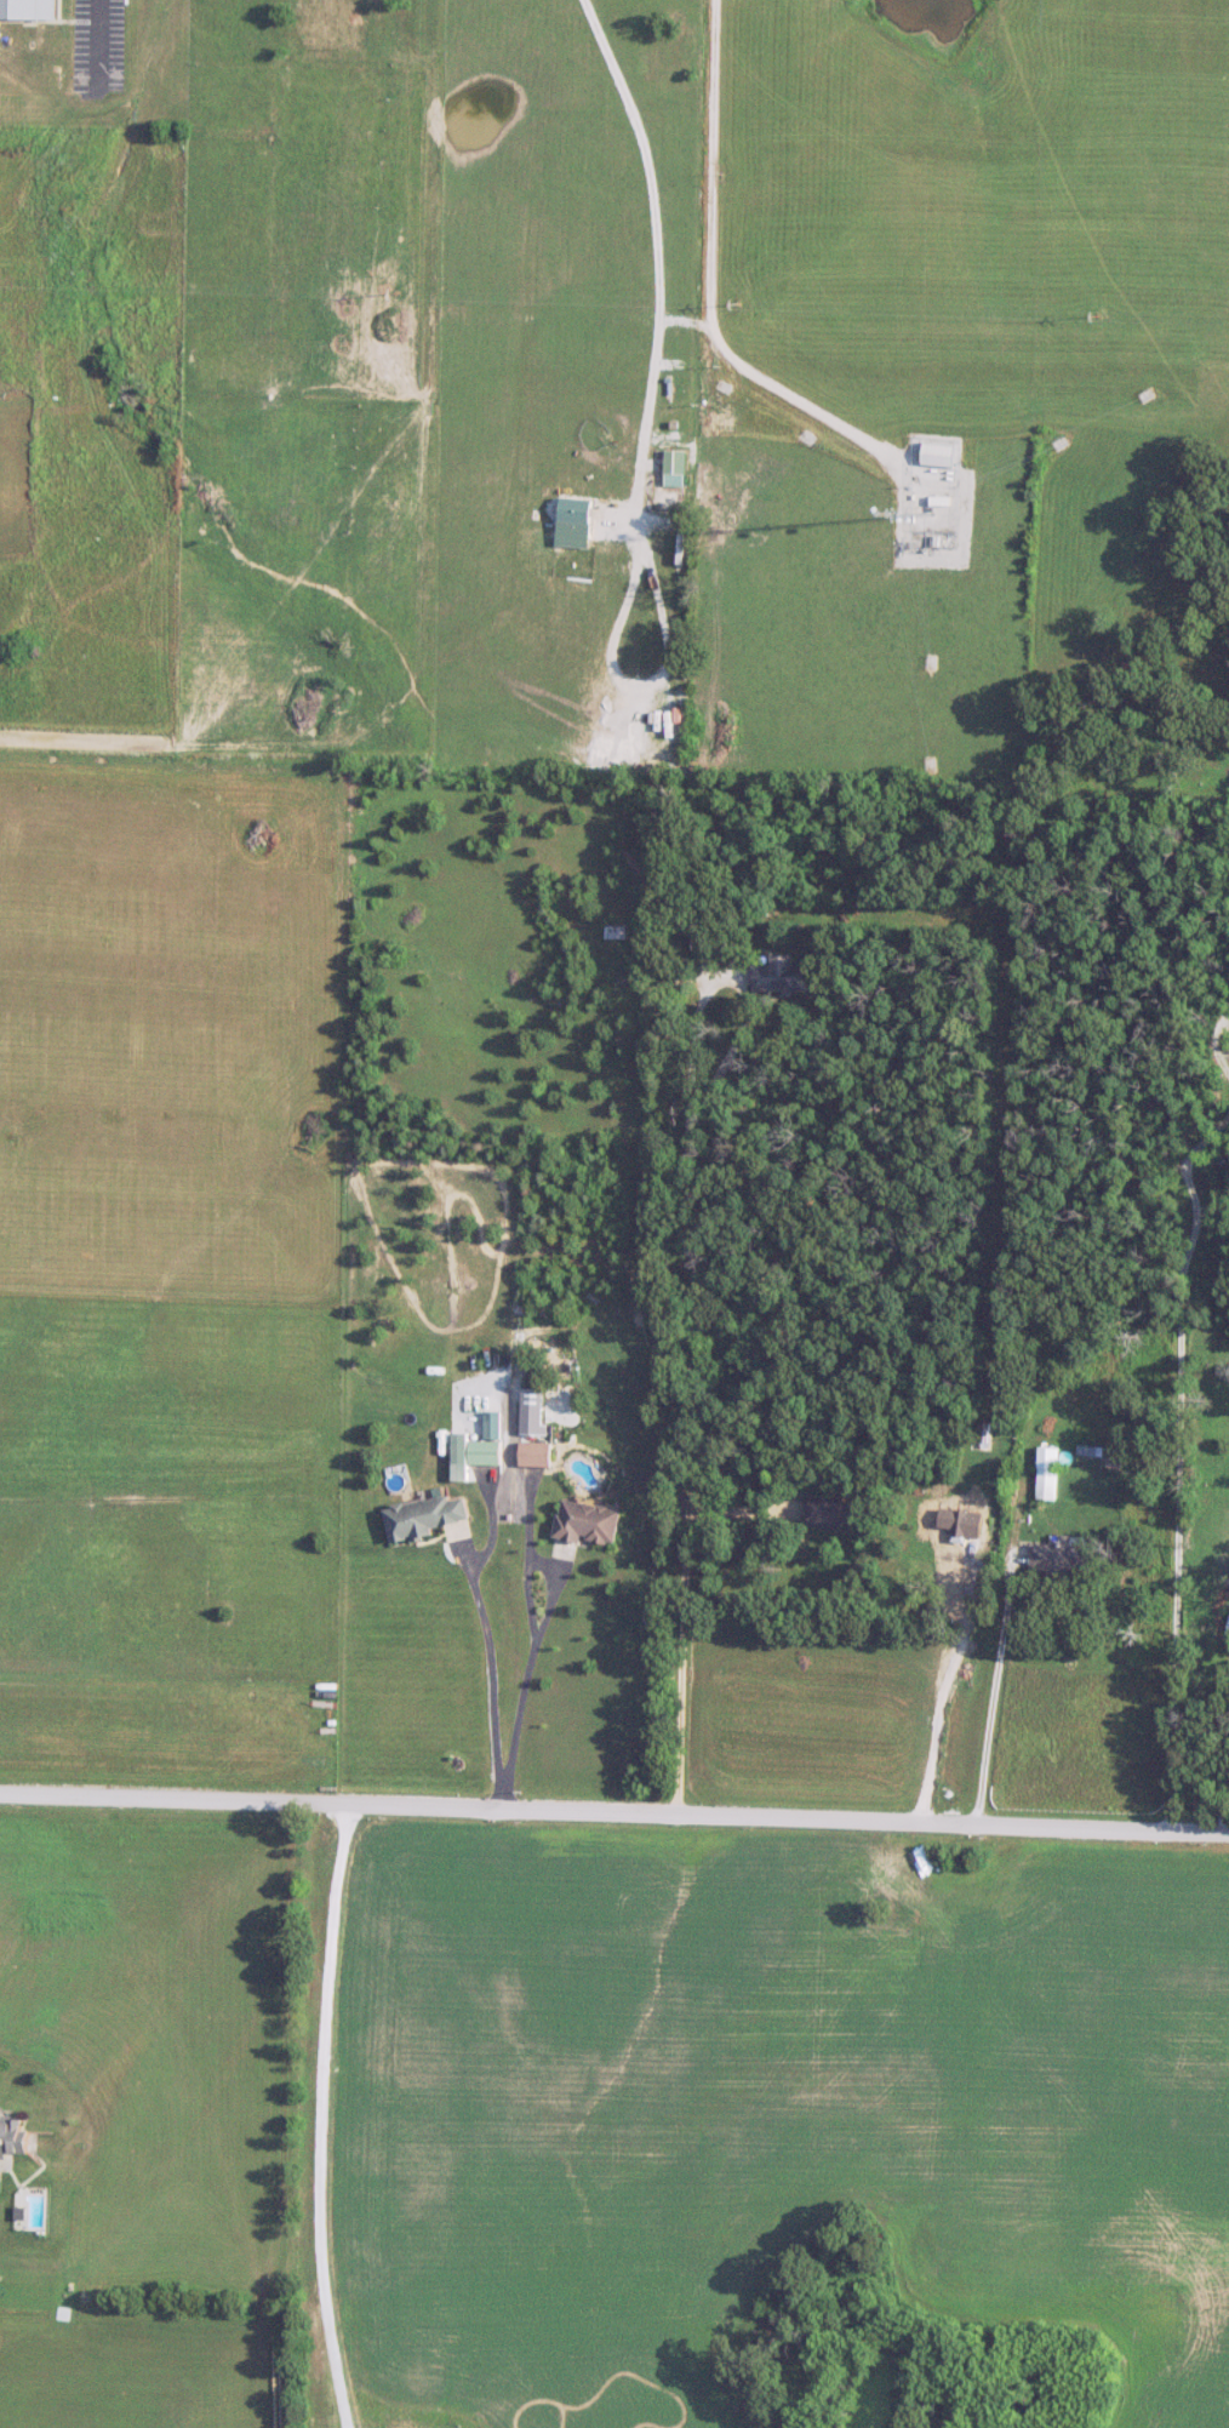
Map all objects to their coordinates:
road: (652, 208)
road: (713, 288)
building: (939, 455)
building: (674, 462)
building: (614, 932)
building: (702, 944)
building: (781, 977)
road: (691, 1399)
road: (1182, 1451)
building: (484, 1453)
building: (536, 1455)
building: (1048, 1473)
building: (836, 1514)
building: (425, 1518)
building: (589, 1523)
building: (1061, 1555)
road: (541, 1629)
road: (999, 1674)
road: (492, 1683)
road: (614, 1812)
road: (314, 2116)
building: (11, 2140)

